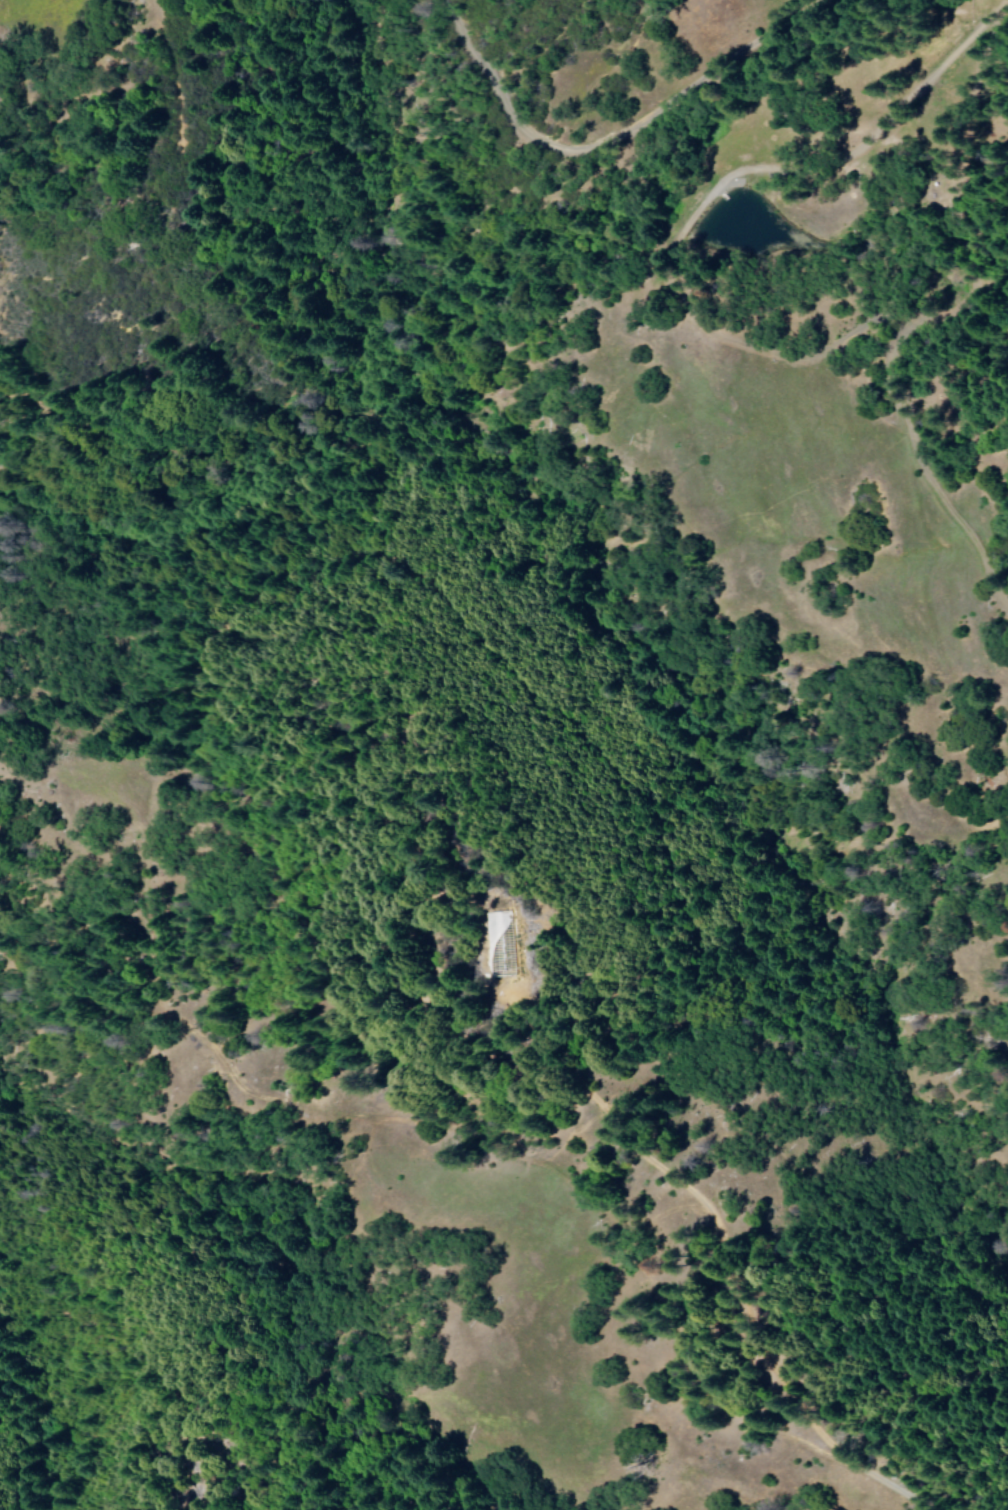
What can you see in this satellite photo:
road: (620, 148)

